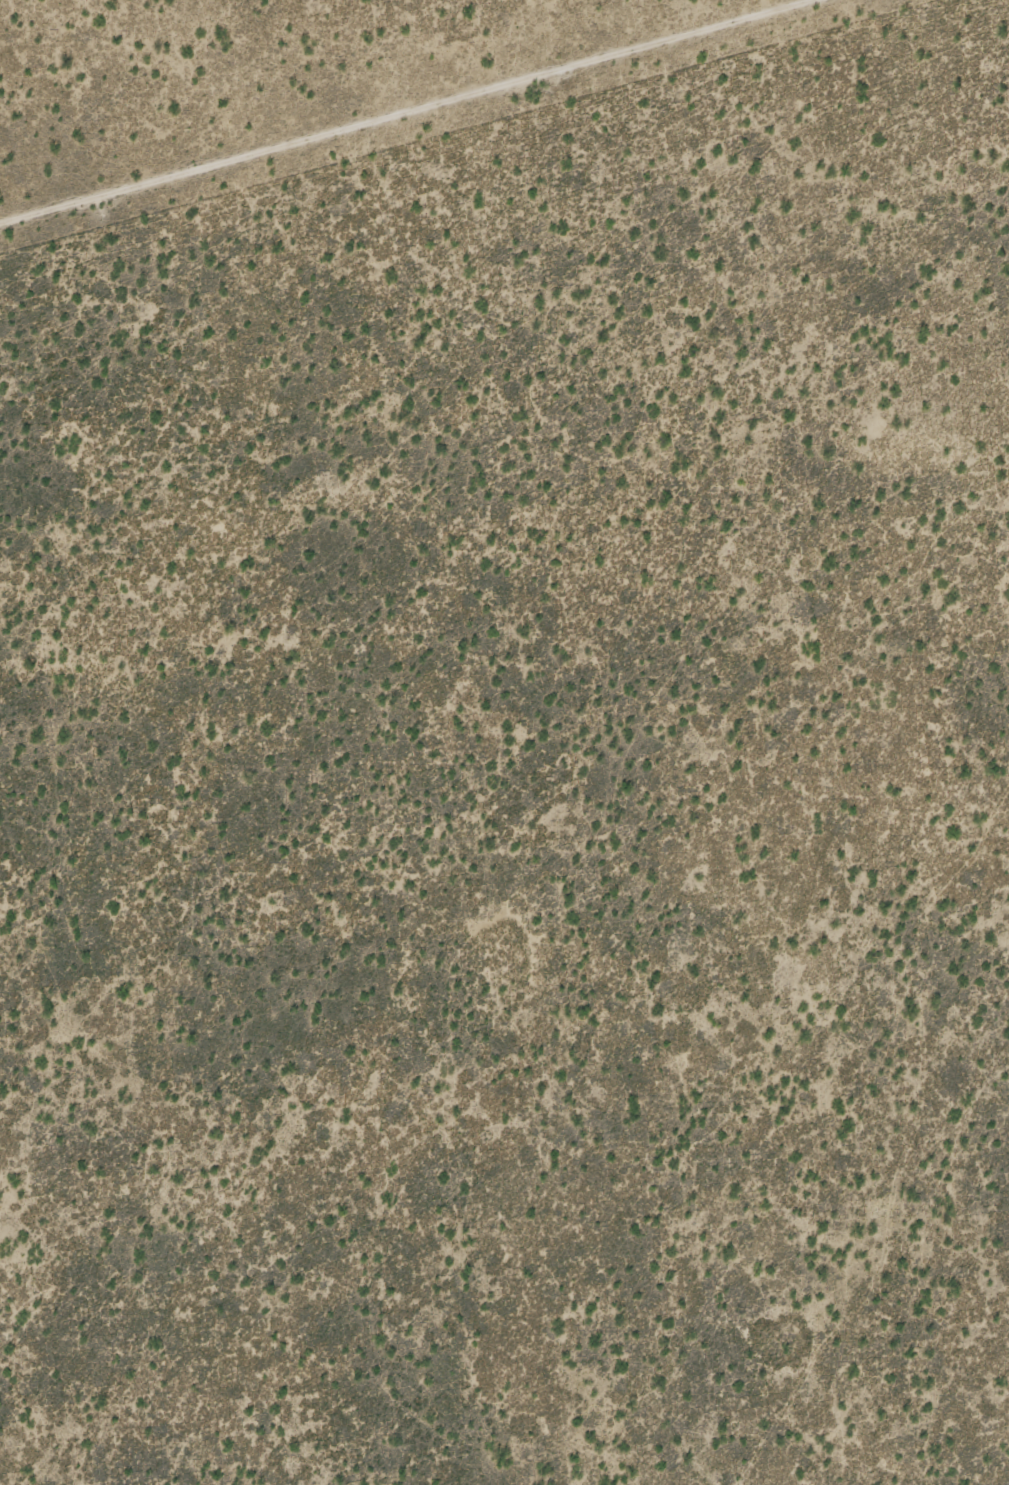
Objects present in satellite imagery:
road: (441, 116)

